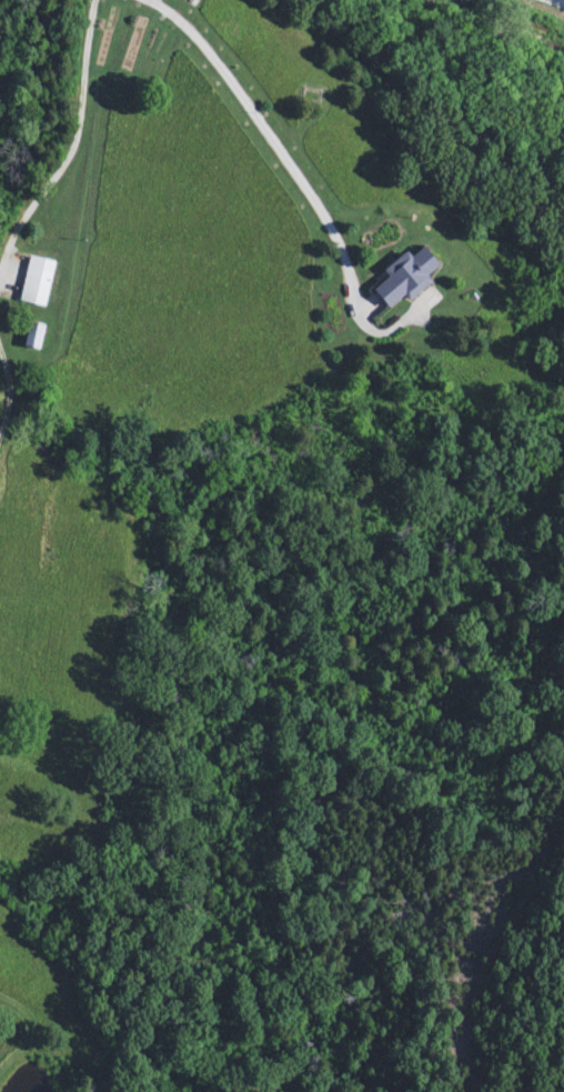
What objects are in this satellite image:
road: (561, 0)
road: (77, 140)
road: (303, 182)
building: (405, 277)
building: (36, 281)
building: (32, 335)

